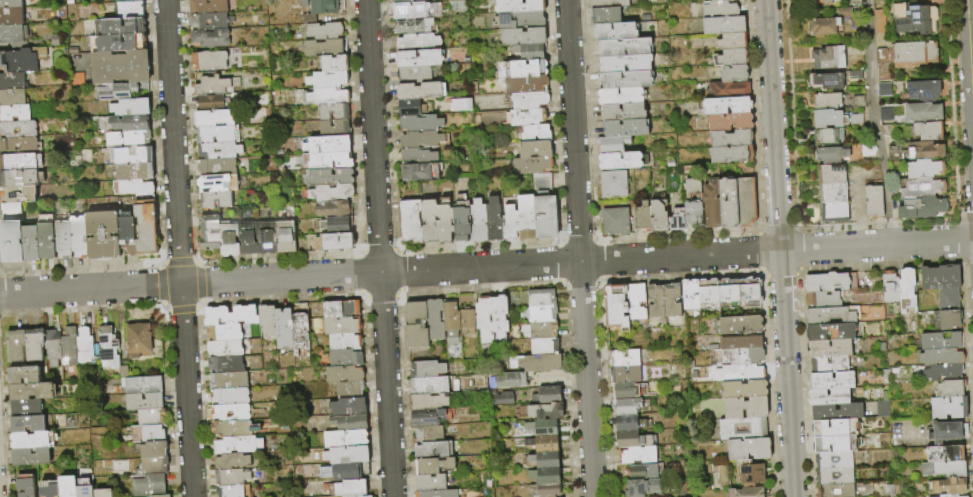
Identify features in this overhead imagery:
building: (125, 0)
building: (422, 0)
building: (719, 0)
building: (818, 0)
building: (404, 1)
building: (826, 1)
building: (607, 3)
building: (10, 4)
building: (207, 6)
building: (518, 6)
building: (719, 8)
building: (129, 9)
building: (316, 9)
building: (413, 10)
building: (844, 12)
building: (605, 15)
building: (10, 16)
building: (914, 18)
building: (208, 20)
building: (520, 20)
building: (877, 21)
building: (723, 24)
building: (122, 26)
building: (413, 26)
building: (822, 26)
building: (615, 31)
building: (323, 32)
building: (10, 33)
building: (522, 36)
building: (210, 37)
building: (731, 40)
building: (120, 42)
building: (417, 43)
building: (624, 47)
building: (322, 48)
building: (529, 51)
building: (913, 54)
building: (732, 57)
building: (828, 57)
building: (419, 59)
building: (208, 60)
building: (18, 61)
building: (625, 62)
building: (334, 64)
road: (969, 65)
building: (119, 66)
building: (527, 68)
building: (734, 73)
building: (415, 75)
building: (626, 79)
building: (326, 80)
building: (827, 80)
building: (11, 81)
building: (526, 85)
building: (211, 86)
building: (883, 88)
building: (727, 89)
building: (116, 90)
building: (923, 90)
building: (419, 91)
building: (619, 95)
building: (12, 97)
building: (325, 97)
building: (528, 100)
building: (827, 100)
building: (210, 103)
building: (726, 105)
building: (130, 107)
building: (409, 108)
building: (622, 111)
building: (333, 112)
building: (922, 112)
building: (14, 113)
building: (884, 114)
building: (526, 117)
building: (213, 118)
building: (829, 119)
building: (854, 119)
building: (729, 121)
building: (129, 122)
road: (873, 123)
building: (420, 124)
building: (625, 128)
building: (18, 129)
building: (333, 129)
building: (928, 130)
building: (535, 133)
building: (214, 134)
building: (730, 137)
building: (828, 137)
building: (127, 139)
building: (420, 140)
building: (612, 143)
building: (18, 145)
building: (327, 145)
building: (534, 149)
building: (925, 149)
building: (218, 150)
building: (730, 154)
building: (831, 154)
building: (133, 156)
building: (417, 156)
building: (620, 160)
building: (330, 161)
building: (17, 162)
building: (530, 165)
building: (216, 166)
building: (924, 168)
building: (133, 171)
building: (416, 173)
building: (831, 173)
building: (330, 177)
building: (18, 178)
building: (217, 183)
building: (613, 184)
road: (856, 185)
building: (134, 187)
building: (923, 187)
building: (832, 192)
building: (17, 194)
building: (331, 194)
building: (214, 199)
building: (692, 201)
building: (745, 201)
building: (872, 201)
building: (727, 202)
building: (710, 204)
building: (921, 207)
building: (544, 208)
building: (332, 210)
building: (9, 211)
building: (833, 211)
building: (643, 216)
building: (658, 216)
building: (525, 217)
building: (493, 219)
building: (677, 219)
building: (409, 220)
building: (429, 220)
building: (477, 221)
building: (614, 221)
building: (510, 222)
building: (444, 223)
building: (461, 223)
building: (336, 226)
building: (144, 227)
road: (859, 231)
building: (209, 232)
building: (126, 233)
building: (102, 235)
building: (45, 236)
building: (78, 237)
building: (285, 237)
building: (266, 238)
building: (62, 239)
building: (248, 239)
building: (229, 240)
building: (10, 242)
building: (29, 243)
building: (333, 243)
road: (178, 248)
road: (378, 248)
road: (579, 248)
road: (779, 248)
road: (486, 267)
building: (940, 277)
building: (830, 281)
building: (889, 286)
building: (906, 290)
building: (748, 292)
building: (728, 293)
building: (688, 294)
building: (708, 294)
building: (540, 299)
building: (822, 299)
building: (948, 299)
building: (670, 300)
building: (635, 301)
building: (654, 301)
building: (615, 305)
building: (338, 309)
building: (832, 314)
building: (230, 315)
building: (541, 315)
building: (498, 316)
building: (949, 318)
building: (266, 320)
building: (434, 320)
building: (483, 320)
building: (450, 321)
building: (466, 321)
building: (737, 324)
building: (416, 325)
building: (339, 326)
building: (282, 328)
building: (299, 328)
building: (542, 331)
building: (830, 331)
building: (223, 332)
building: (940, 340)
building: (138, 341)
building: (342, 342)
building: (740, 342)
building: (33, 344)
building: (14, 345)
building: (84, 345)
building: (68, 346)
building: (108, 346)
building: (52, 347)
building: (542, 347)
building: (829, 347)
building: (224, 348)
building: (737, 356)
building: (940, 357)
building: (344, 358)
building: (622, 358)
building: (225, 363)
building: (534, 363)
building: (828, 363)
building: (426, 369)
building: (123, 371)
building: (743, 373)
building: (942, 373)
building: (341, 374)
building: (23, 375)
building: (623, 375)
building: (831, 379)
building: (227, 380)
building: (506, 381)
building: (141, 384)
building: (428, 385)
building: (742, 389)
building: (949, 389)
building: (347, 390)
building: (628, 390)
building: (31, 391)
building: (229, 395)
building: (546, 396)
building: (828, 396)
building: (499, 399)
building: (428, 400)
building: (143, 401)
building: (626, 406)
building: (346, 407)
building: (744, 407)
building: (948, 407)
building: (25, 408)
building: (836, 411)
building: (229, 412)
building: (544, 412)
building: (426, 416)
building: (151, 417)
building: (28, 423)
building: (348, 423)
building: (627, 423)
building: (834, 427)
building: (233, 428)
building: (540, 428)
building: (740, 428)
building: (946, 431)
building: (153, 433)
building: (429, 433)
building: (344, 439)
building: (630, 439)
building: (32, 440)
building: (835, 443)
building: (236, 444)
building: (542, 444)
building: (153, 449)
building: (432, 449)
building: (747, 449)
building: (943, 453)
building: (345, 455)
building: (636, 455)
building: (30, 457)
building: (833, 459)
building: (544, 460)
building: (231, 461)
building: (151, 465)
building: (433, 465)
building: (943, 468)
building: (343, 471)
building: (641, 471)
building: (750, 474)
building: (834, 475)
building: (230, 477)
building: (544, 477)
building: (430, 482)
building: (949, 484)
building: (24, 485)
building: (148, 485)
building: (67, 486)
building: (84, 487)
building: (641, 487)
building: (49, 488)
building: (346, 489)
building: (546, 490)
building: (835, 490)
building: (229, 491)
building: (103, 492)
building: (744, 492)
building: (437, 493)
building: (949, 495)
building: (160, 496)
building: (354, 496)

